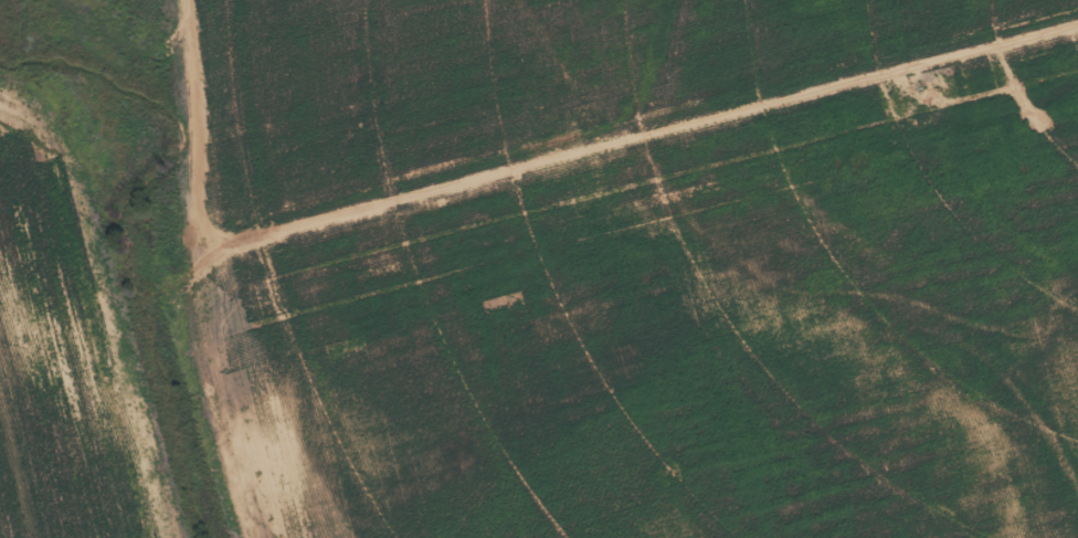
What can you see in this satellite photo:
road: (522, 167)

